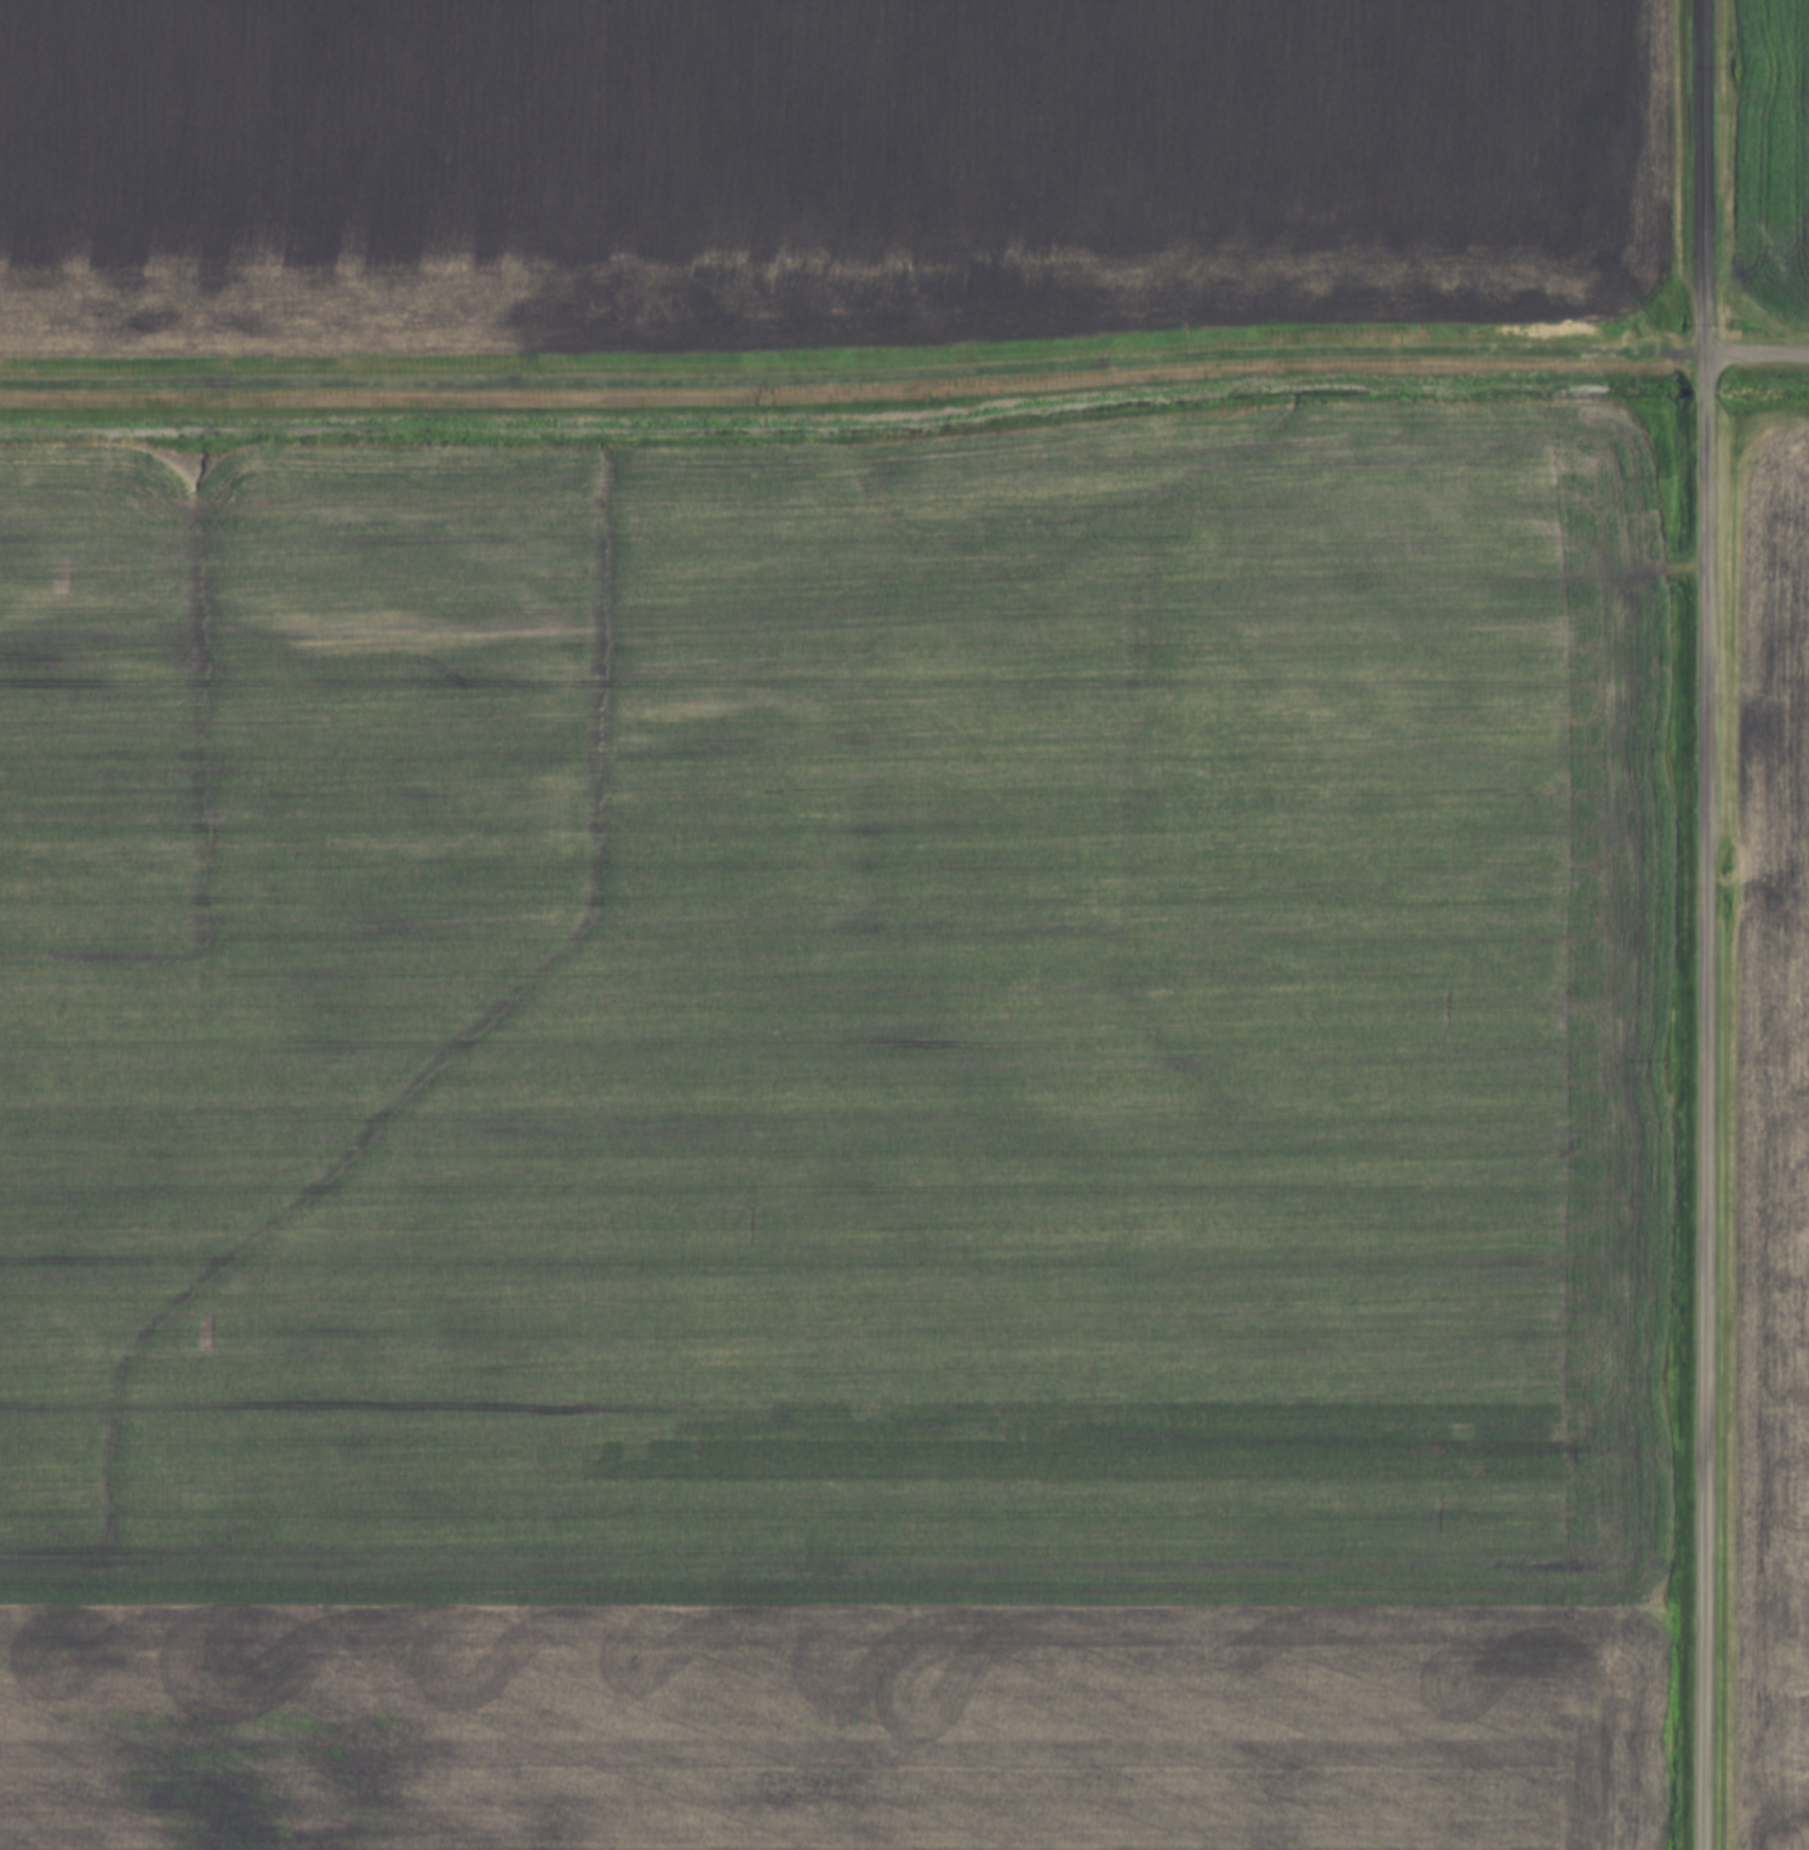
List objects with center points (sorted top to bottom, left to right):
road: (1759, 353)
road: (855, 383)
road: (1708, 924)

